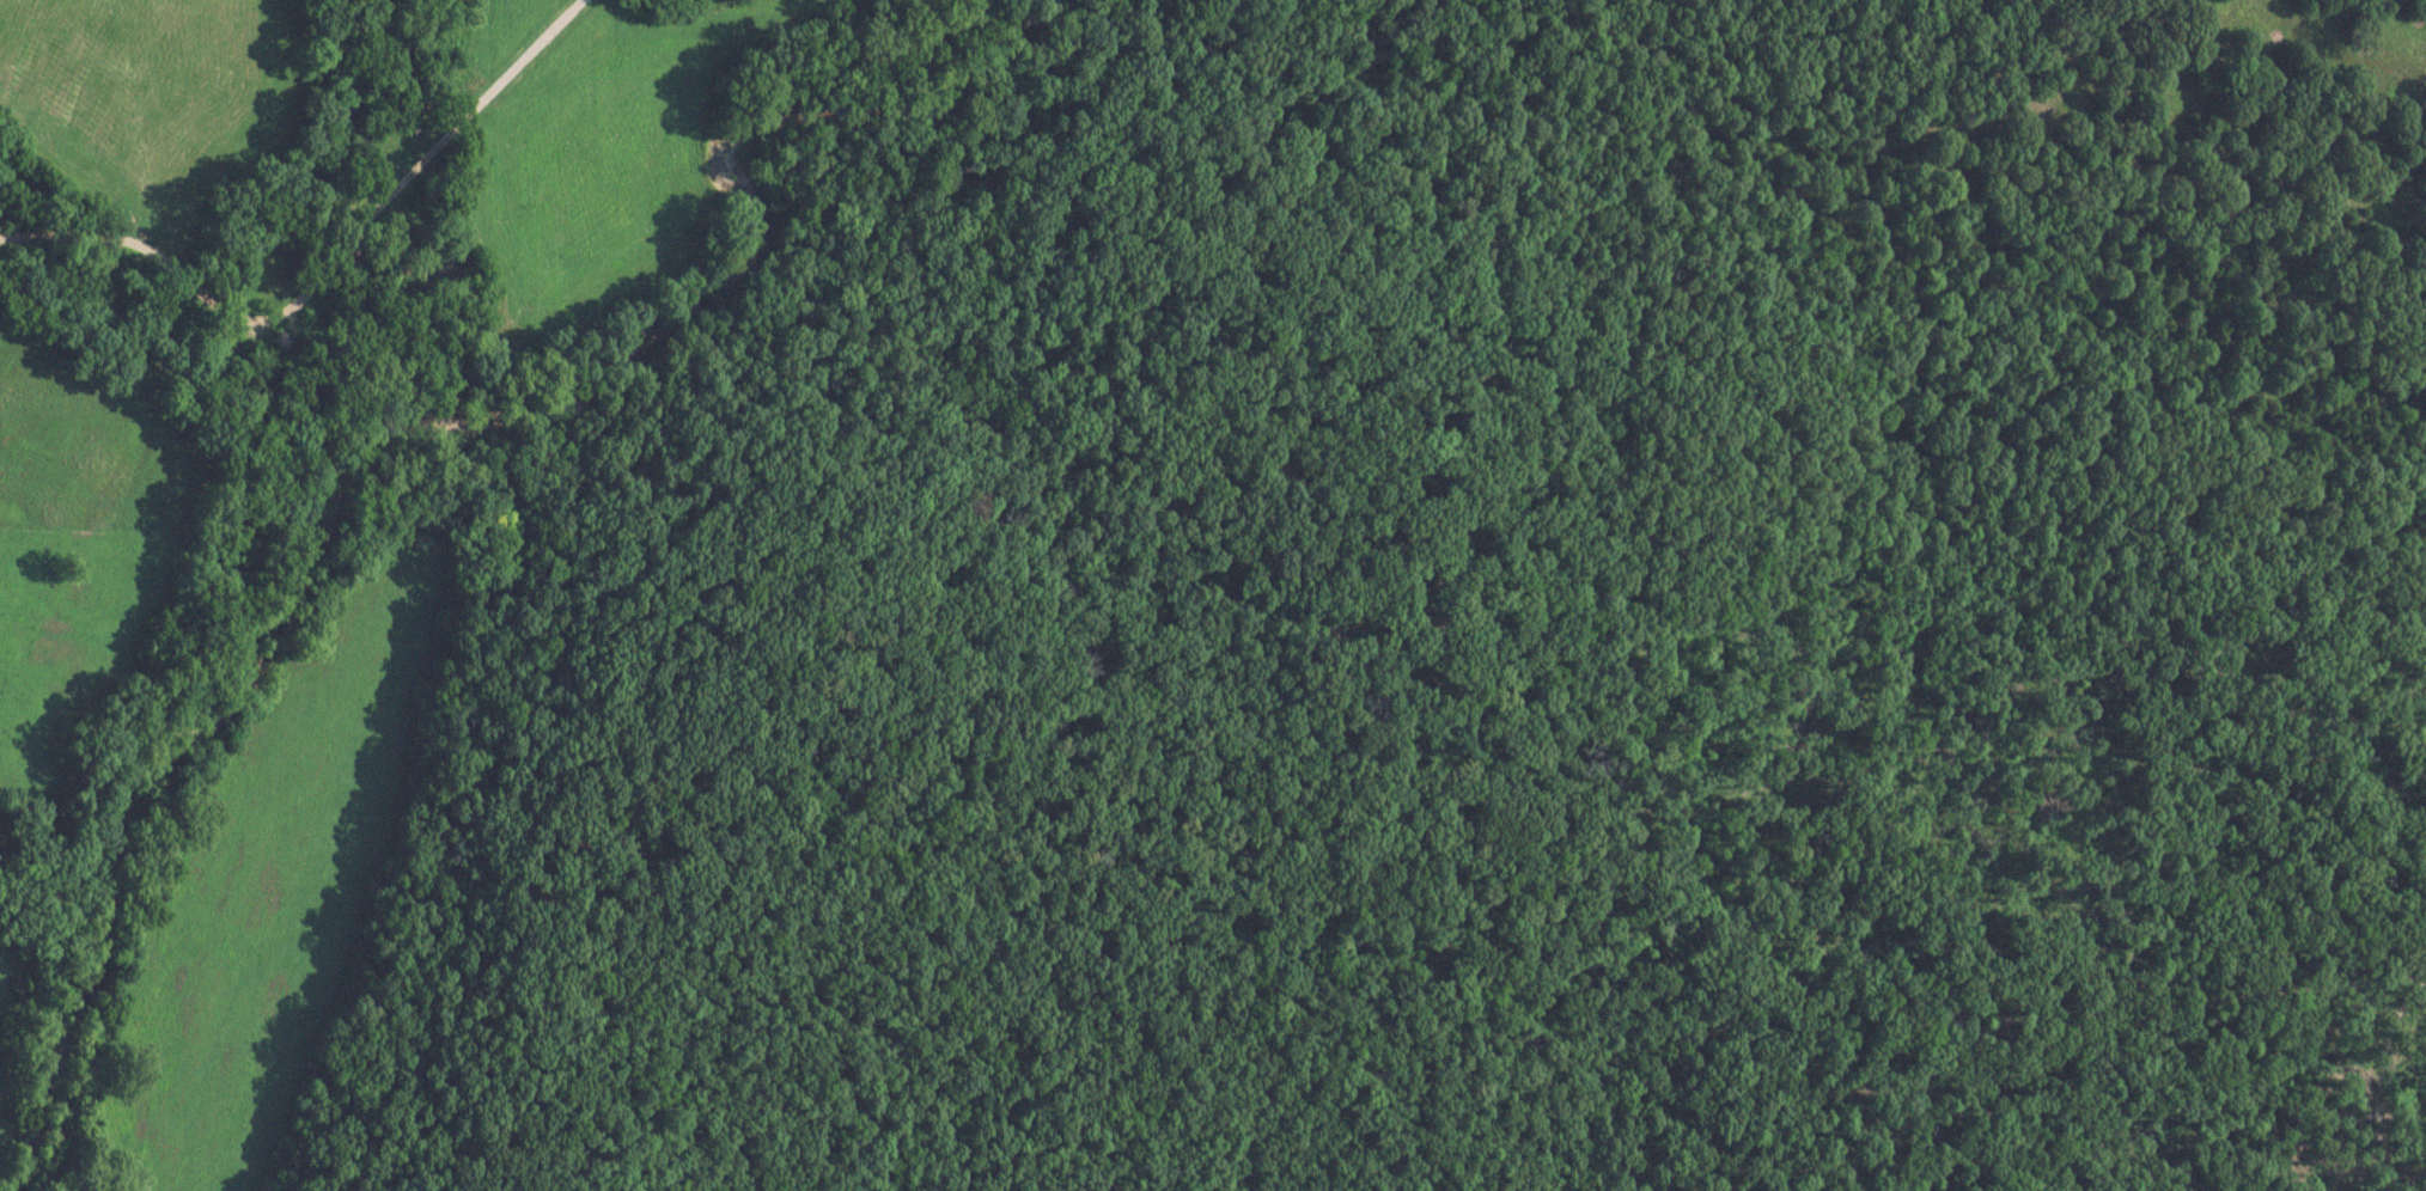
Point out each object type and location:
road: (327, 268)

